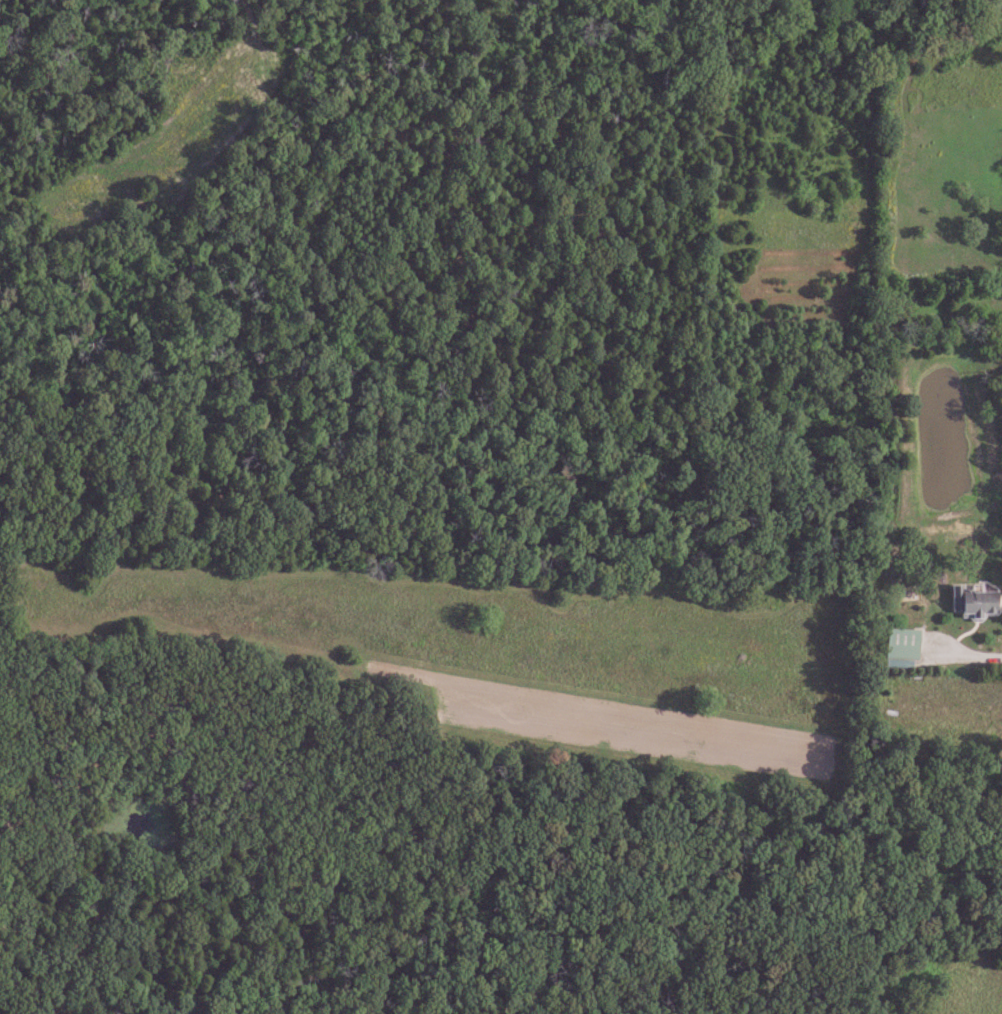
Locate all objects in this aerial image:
building: (978, 604)

